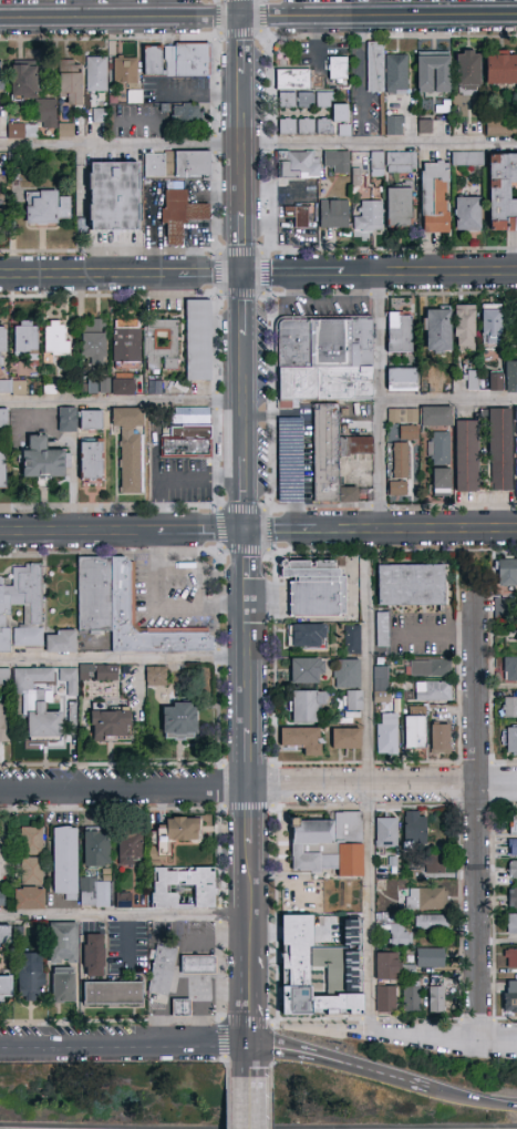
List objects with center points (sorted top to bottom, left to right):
road: (245, 9)
road: (375, 9)
road: (381, 17)
road: (123, 19)
building: (176, 60)
building: (375, 66)
building: (338, 69)
building: (500, 69)
building: (468, 70)
building: (125, 71)
building: (434, 72)
building: (96, 74)
building: (396, 74)
building: (1, 78)
building: (293, 79)
building: (70, 81)
building: (314, 103)
building: (45, 112)
building: (186, 113)
building: (99, 115)
building: (393, 125)
building: (422, 125)
building: (306, 126)
building: (499, 126)
building: (516, 127)
building: (64, 131)
road: (258, 145)
road: (246, 147)
building: (467, 158)
building: (337, 162)
building: (401, 162)
building: (376, 163)
building: (177, 164)
building: (298, 165)
building: (503, 193)
building: (435, 196)
building: (114, 197)
building: (45, 207)
building: (399, 207)
building: (180, 214)
building: (334, 214)
building: (467, 214)
building: (298, 216)
building: (369, 216)
road: (381, 274)
road: (123, 276)
building: (492, 325)
building: (465, 327)
building: (516, 328)
building: (438, 330)
building: (400, 332)
building: (25, 338)
building: (56, 339)
building: (198, 340)
building: (93, 342)
building: (126, 345)
building: (161, 345)
building: (2, 347)
building: (325, 359)
road: (247, 377)
building: (510, 377)
building: (402, 379)
building: (471, 381)
building: (435, 382)
building: (495, 382)
building: (107, 387)
building: (12, 388)
building: (50, 390)
road: (448, 401)
road: (123, 402)
road: (379, 402)
building: (436, 415)
building: (516, 417)
building: (3, 418)
building: (68, 419)
building: (92, 421)
building: (404, 422)
building: (515, 427)
road: (307, 442)
building: (188, 443)
building: (131, 447)
building: (440, 448)
building: (516, 449)
building: (500, 450)
building: (333, 454)
building: (285, 455)
building: (467, 456)
building: (41, 459)
building: (92, 460)
building: (516, 468)
building: (2, 470)
building: (399, 470)
road: (178, 478)
building: (441, 482)
building: (516, 490)
road: (249, 505)
road: (282, 531)
road: (416, 531)
road: (83, 532)
road: (209, 532)
road: (196, 567)
building: (507, 573)
building: (411, 585)
building: (316, 587)
parking lot: (167, 593)
building: (500, 607)
building: (124, 609)
road: (164, 610)
building: (32, 616)
building: (379, 628)
road: (435, 632)
building: (307, 635)
building: (352, 639)
building: (60, 642)
road: (125, 659)
road: (250, 659)
building: (431, 668)
building: (510, 669)
building: (95, 670)
building: (307, 670)
building: (348, 674)
building: (4, 676)
building: (156, 677)
building: (380, 680)
building: (69, 682)
building: (433, 691)
building: (354, 701)
building: (39, 705)
building: (307, 705)
building: (510, 706)
building: (107, 709)
building: (179, 721)
building: (4, 722)
building: (414, 732)
building: (386, 736)
building: (347, 738)
building: (440, 738)
building: (302, 739)
building: (511, 742)
road: (383, 788)
road: (125, 789)
road: (364, 804)
road: (477, 809)
building: (513, 825)
building: (415, 828)
building: (386, 833)
building: (175, 834)
building: (31, 840)
building: (328, 844)
building: (513, 848)
building: (96, 849)
building: (130, 849)
building: (65, 862)
building: (435, 864)
building: (513, 870)
building: (31, 871)
building: (94, 892)
building: (164, 896)
building: (29, 897)
building: (513, 897)
building: (2, 899)
building: (422, 899)
building: (123, 901)
road: (126, 918)
building: (432, 923)
building: (511, 924)
road: (252, 932)
building: (6, 935)
building: (401, 936)
building: (63, 942)
road: (219, 942)
building: (93, 955)
building: (430, 958)
building: (510, 958)
road: (196, 965)
building: (197, 965)
building: (387, 966)
building: (320, 969)
building: (162, 971)
building: (31, 976)
building: (63, 985)
building: (6, 986)
building: (113, 994)
road: (224, 994)
building: (436, 994)
building: (412, 997)
building: (510, 997)
building: (385, 1000)
road: (158, 1006)
building: (180, 1008)
road: (196, 1010)
road: (441, 1041)
road: (125, 1047)
road: (340, 1065)
road: (472, 1101)
road: (252, 1104)

